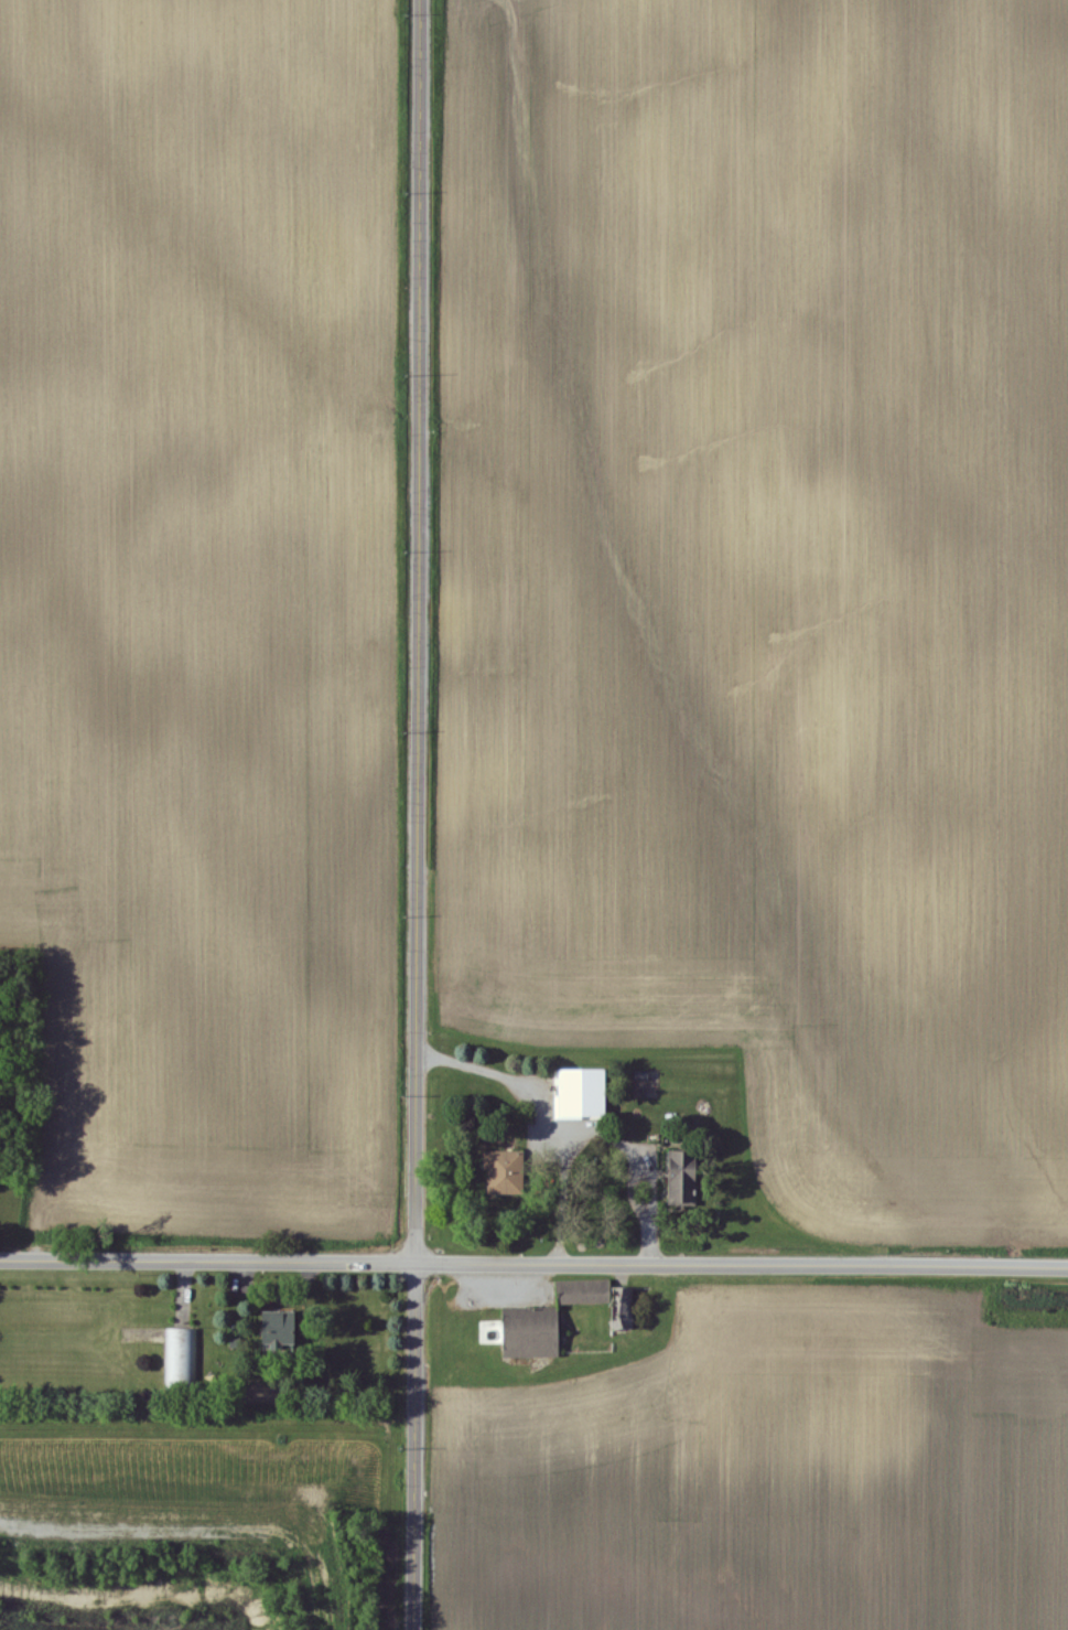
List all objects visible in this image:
road: (417, 815)
building: (580, 1093)
road: (543, 1119)
road: (643, 1162)
building: (503, 1172)
building: (681, 1180)
road: (533, 1264)
building: (583, 1293)
building: (625, 1308)
building: (276, 1329)
building: (529, 1333)
building: (184, 1358)

